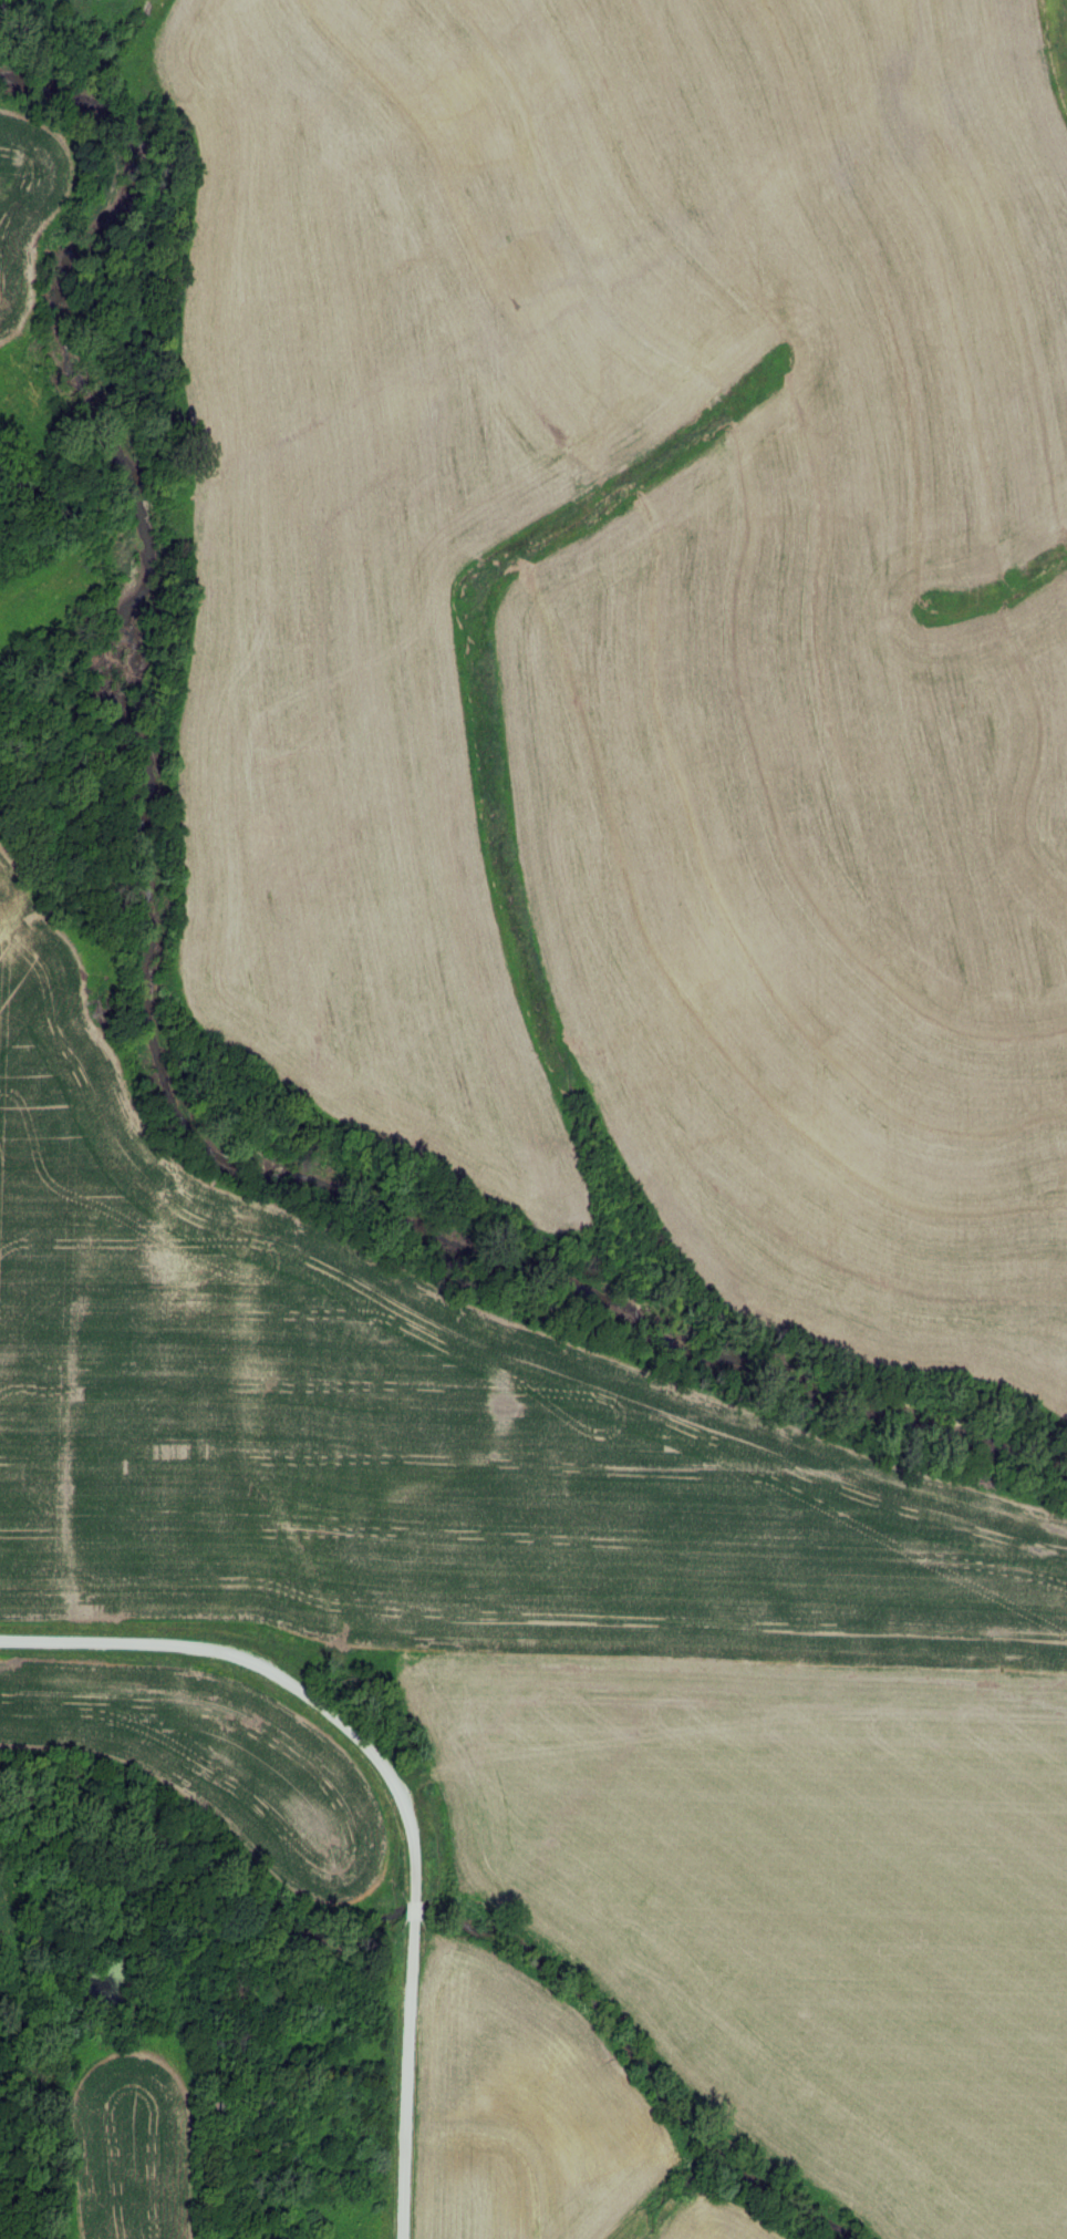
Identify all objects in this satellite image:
road: (402, 1785)

